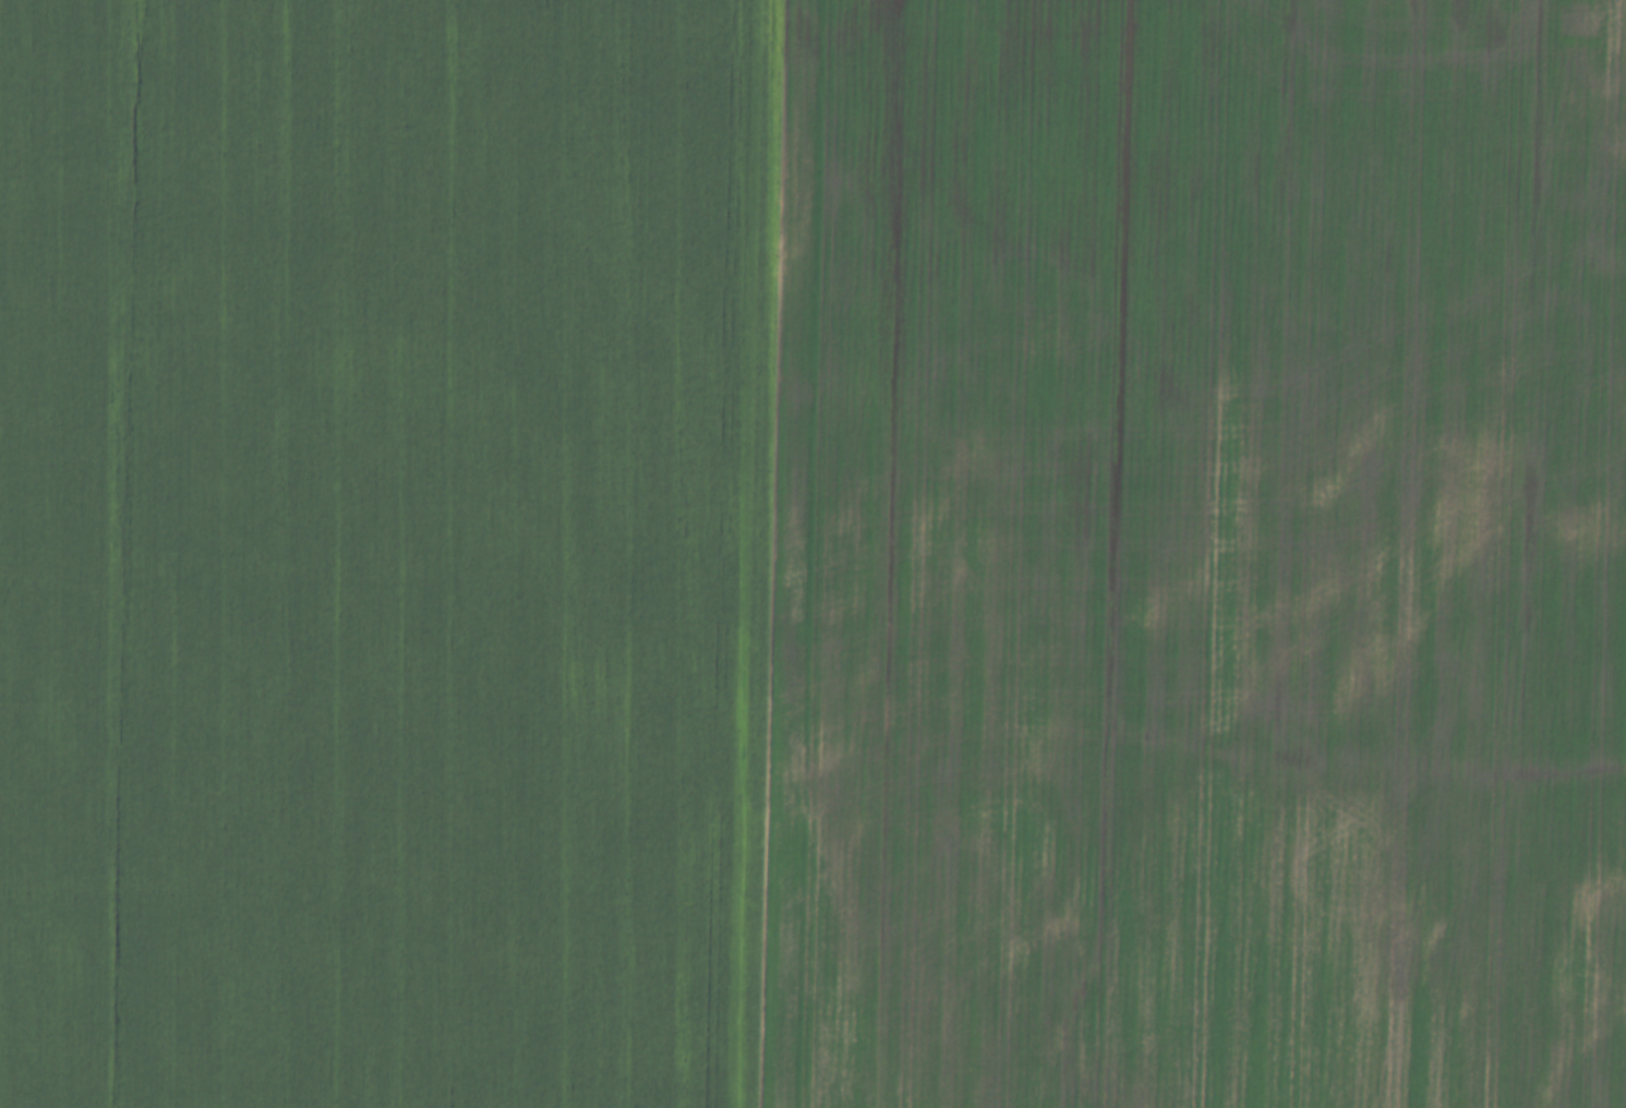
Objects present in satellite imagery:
crop: (374, 551)
crop: (1187, 556)

